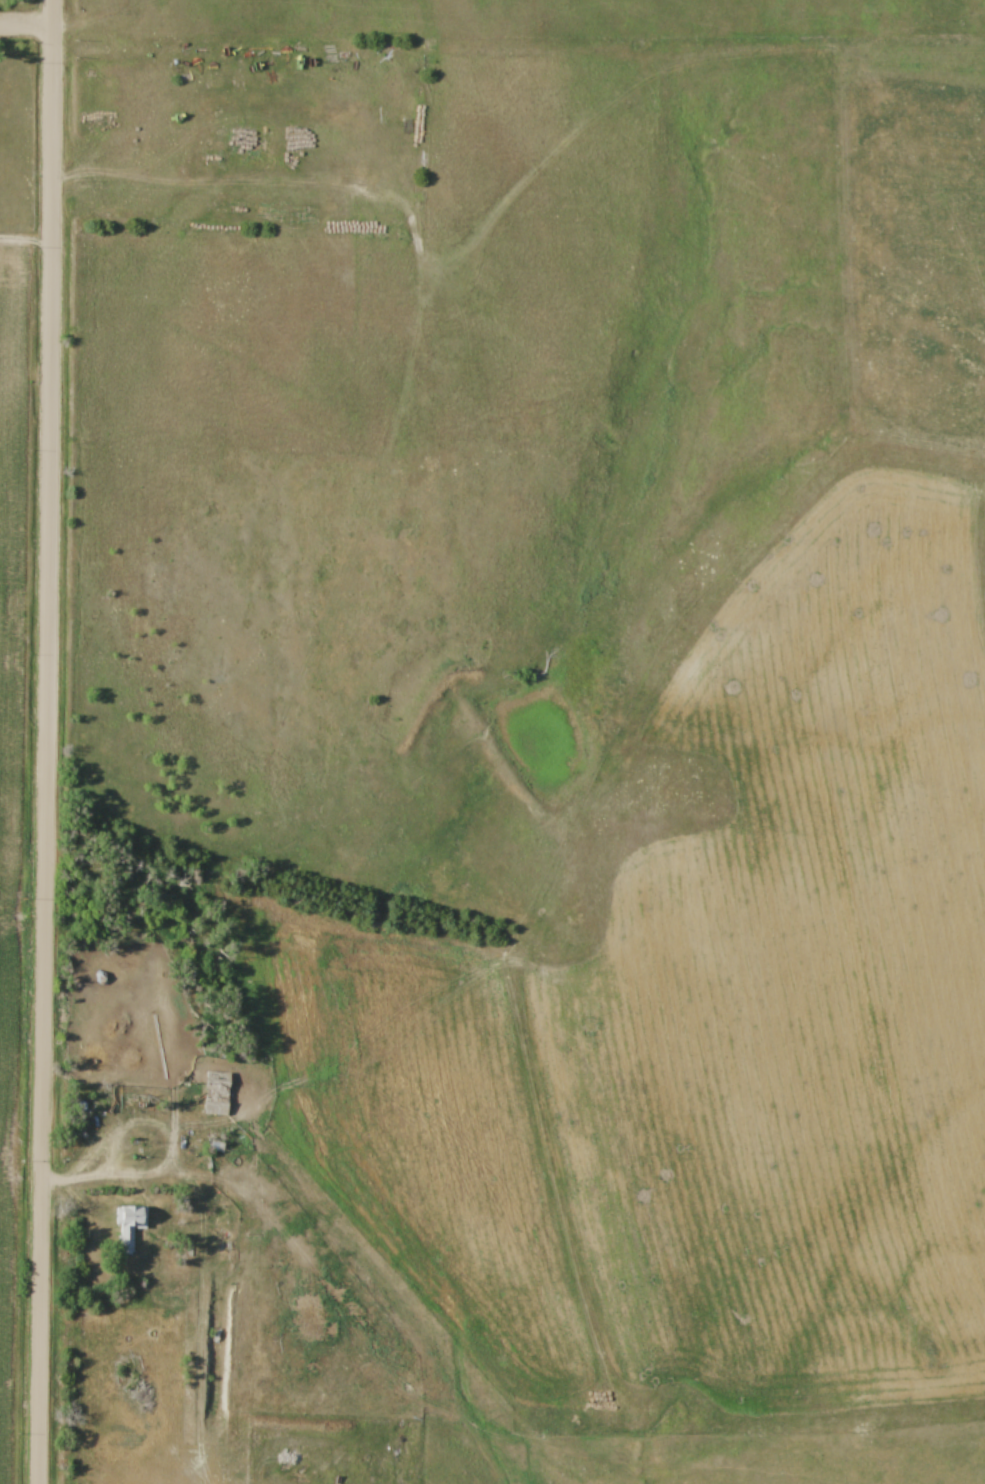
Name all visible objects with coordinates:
road: (26, 25)
road: (27, 239)
road: (47, 742)
building: (218, 1095)
building: (84, 1116)
road: (169, 1152)
road: (58, 1181)
building: (130, 1227)

